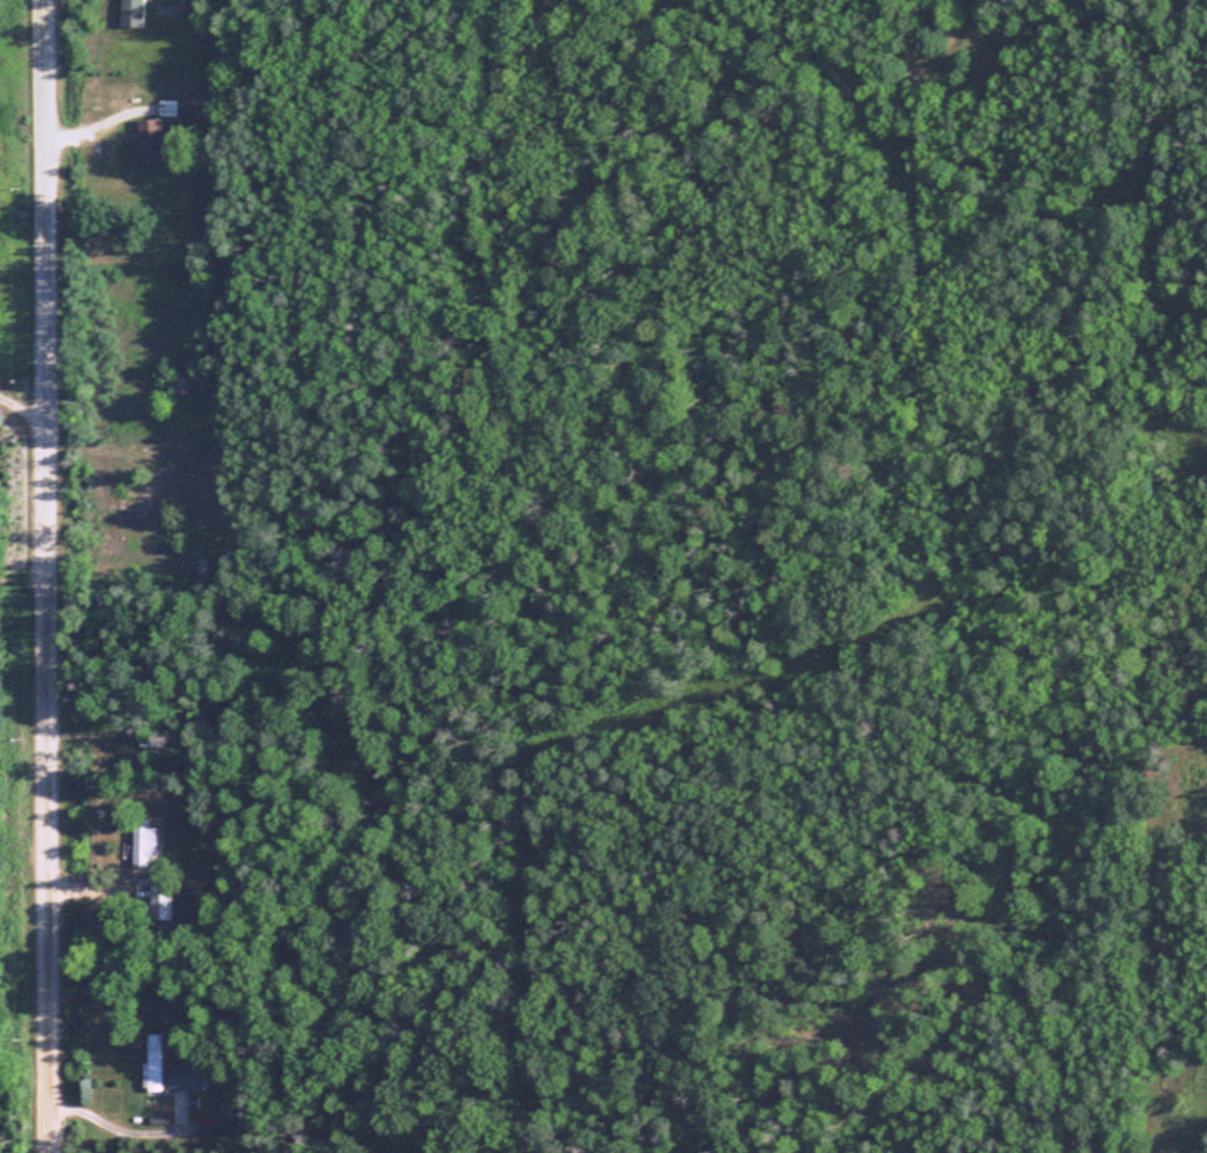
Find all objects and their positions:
building: (131, 13)
building: (147, 141)
building: (180, 385)
road: (24, 411)
road: (48, 576)
building: (142, 844)
building: (160, 902)
building: (153, 1069)
building: (186, 1077)

